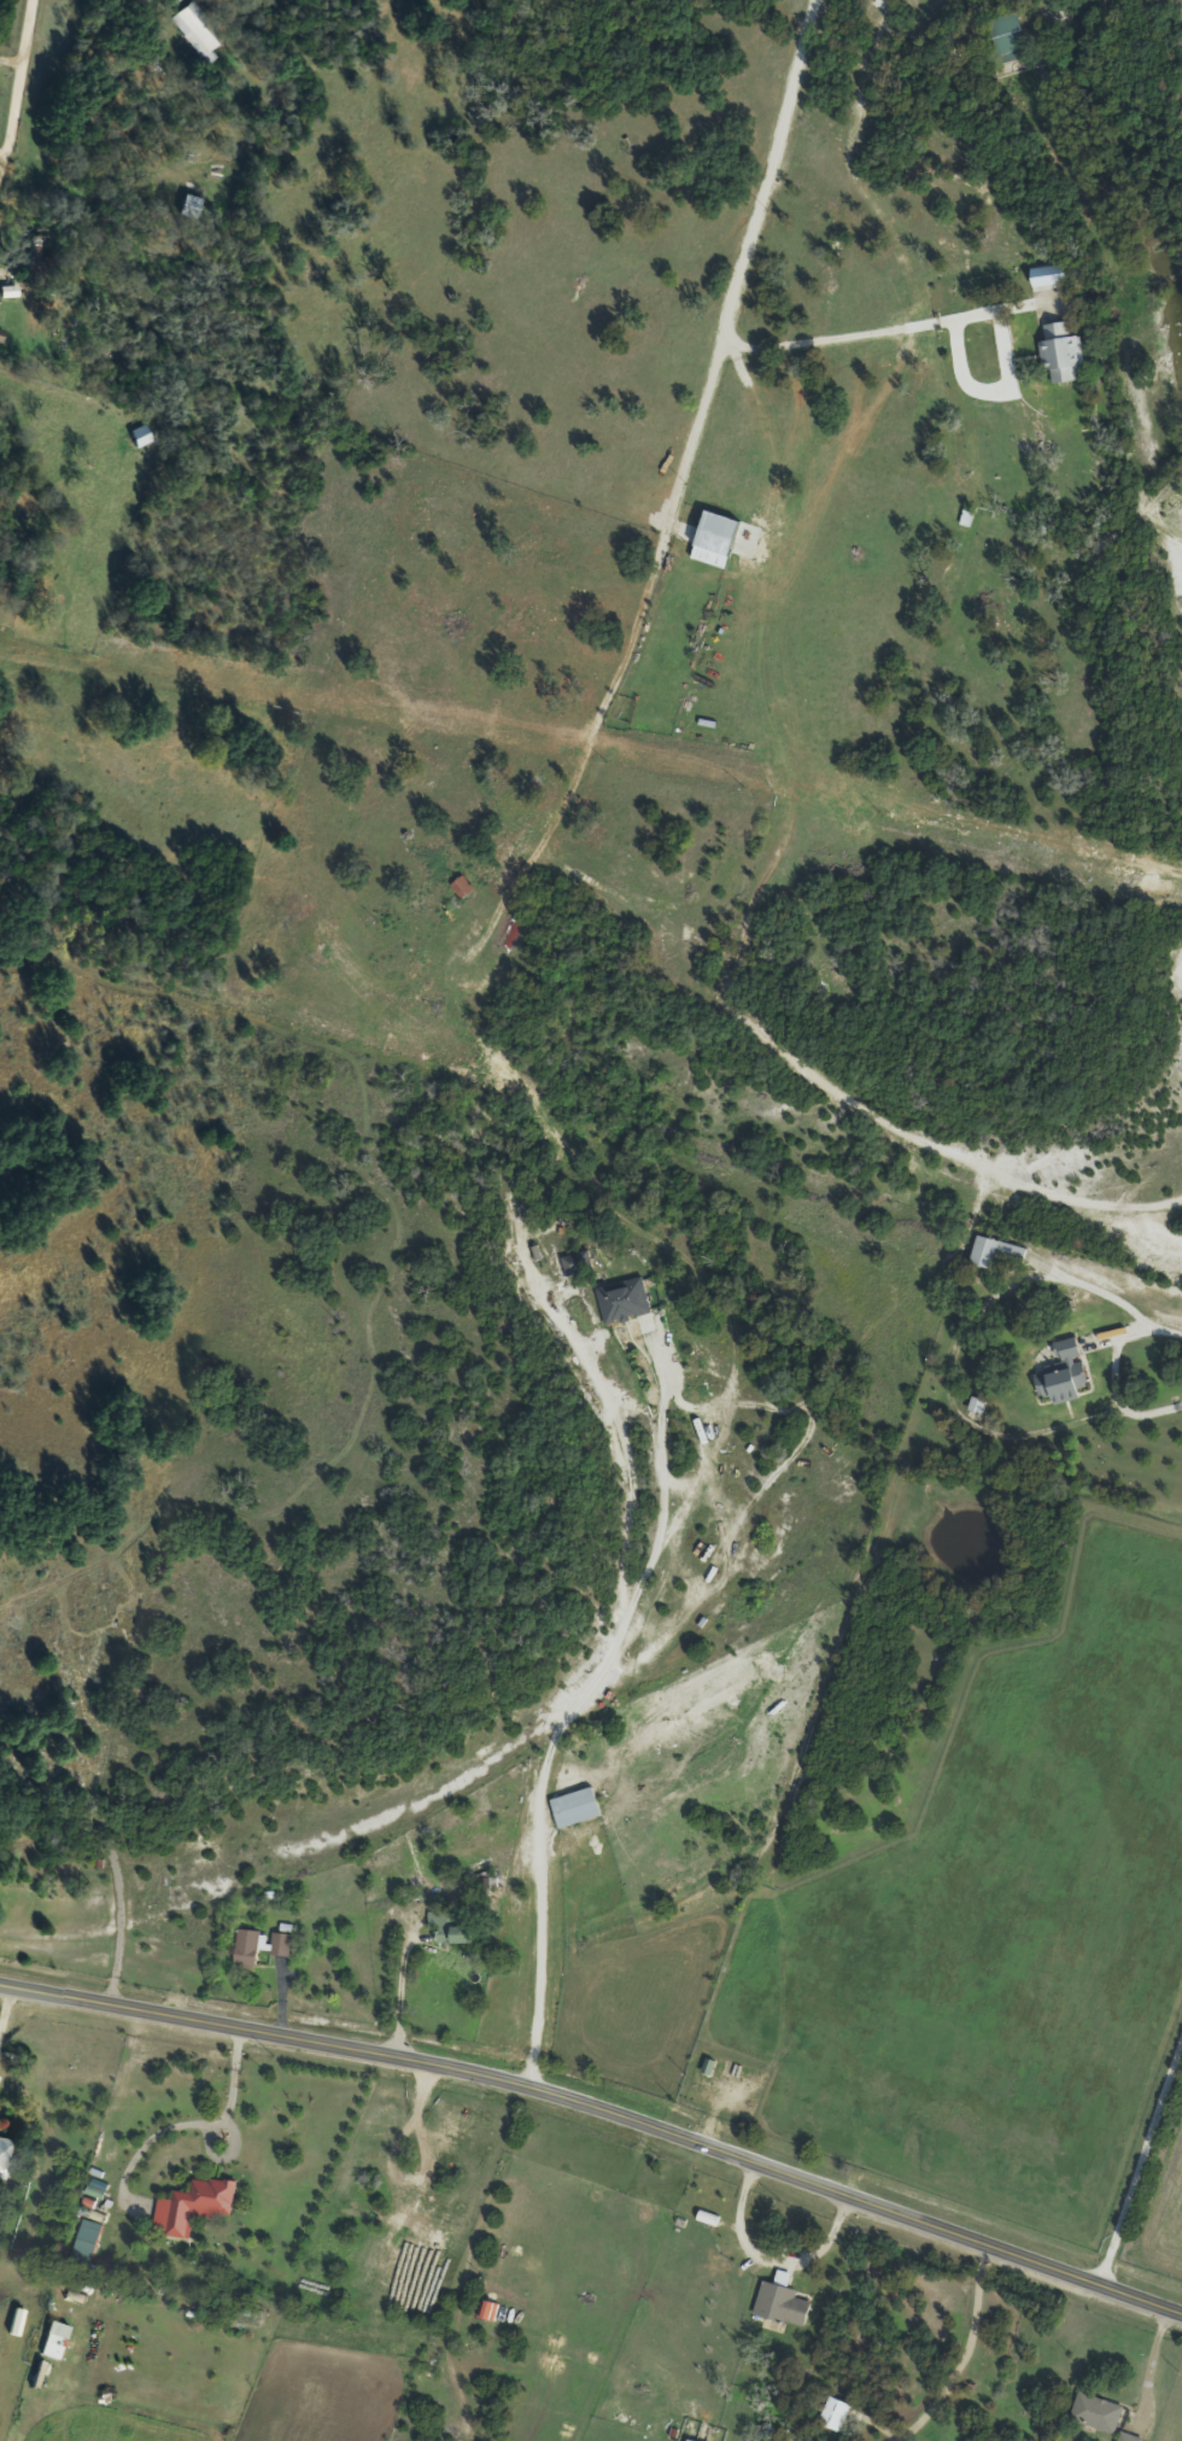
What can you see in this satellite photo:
building: (201, 30)
building: (1011, 40)
road: (12, 59)
road: (21, 88)
road: (2, 156)
building: (193, 206)
building: (37, 263)
road: (731, 278)
building: (1064, 357)
road: (997, 381)
road: (691, 428)
building: (144, 436)
building: (720, 541)
building: (467, 888)
building: (1000, 1252)
building: (577, 1265)
building: (1067, 1373)
road: (1113, 1373)
road: (563, 1722)
building: (580, 1809)
building: (455, 1928)
building: (285, 1945)
building: (251, 1950)
road: (394, 1989)
road: (4, 2002)
road: (223, 2103)
road: (601, 2108)
building: (6, 2159)
road: (1141, 2163)
building: (198, 2206)
building: (88, 2244)
road: (766, 2264)
building: (790, 2306)
building: (491, 2311)
road: (962, 2354)
road: (1145, 2361)
building: (1101, 2414)
building: (839, 2416)
building: (1131, 2439)
building: (694, 2440)

